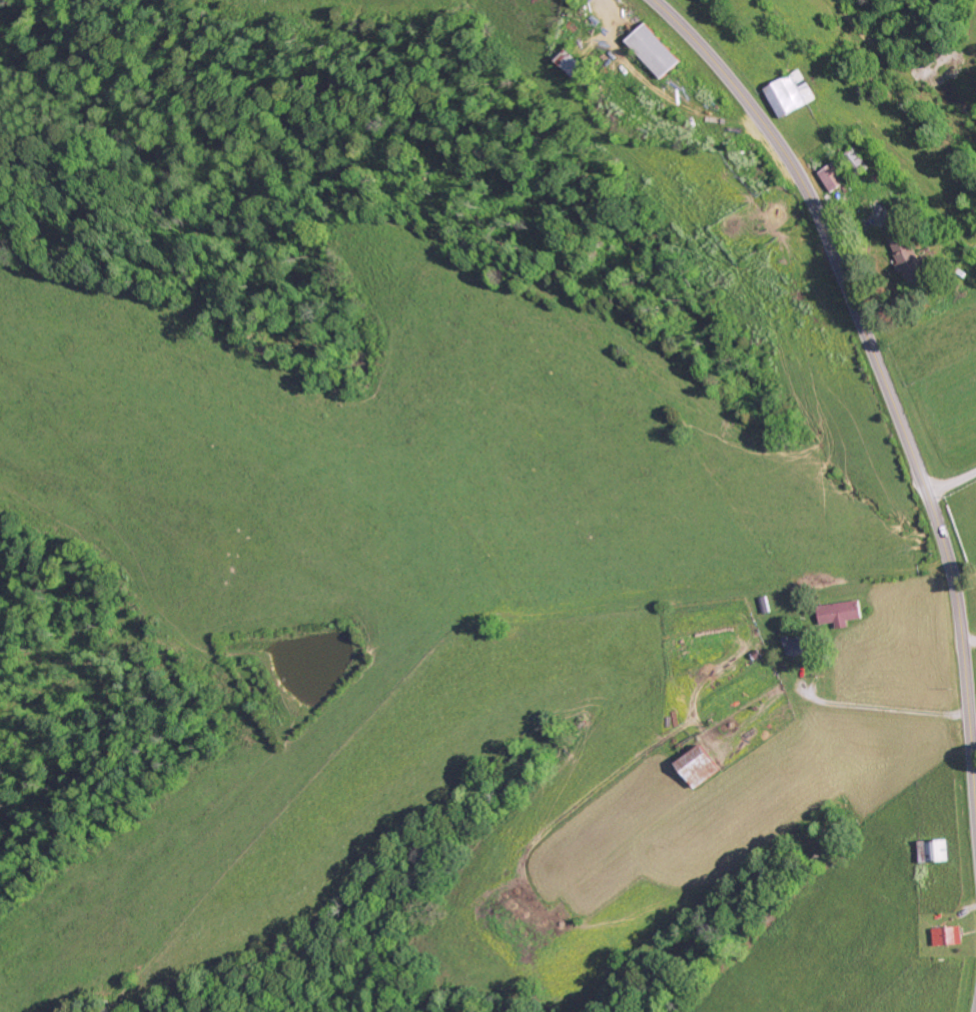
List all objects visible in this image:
building: (657, 51)
building: (577, 64)
building: (792, 95)
building: (834, 178)
building: (908, 260)
road: (881, 377)
building: (843, 614)
building: (799, 646)
building: (702, 767)
building: (936, 850)
building: (950, 936)

